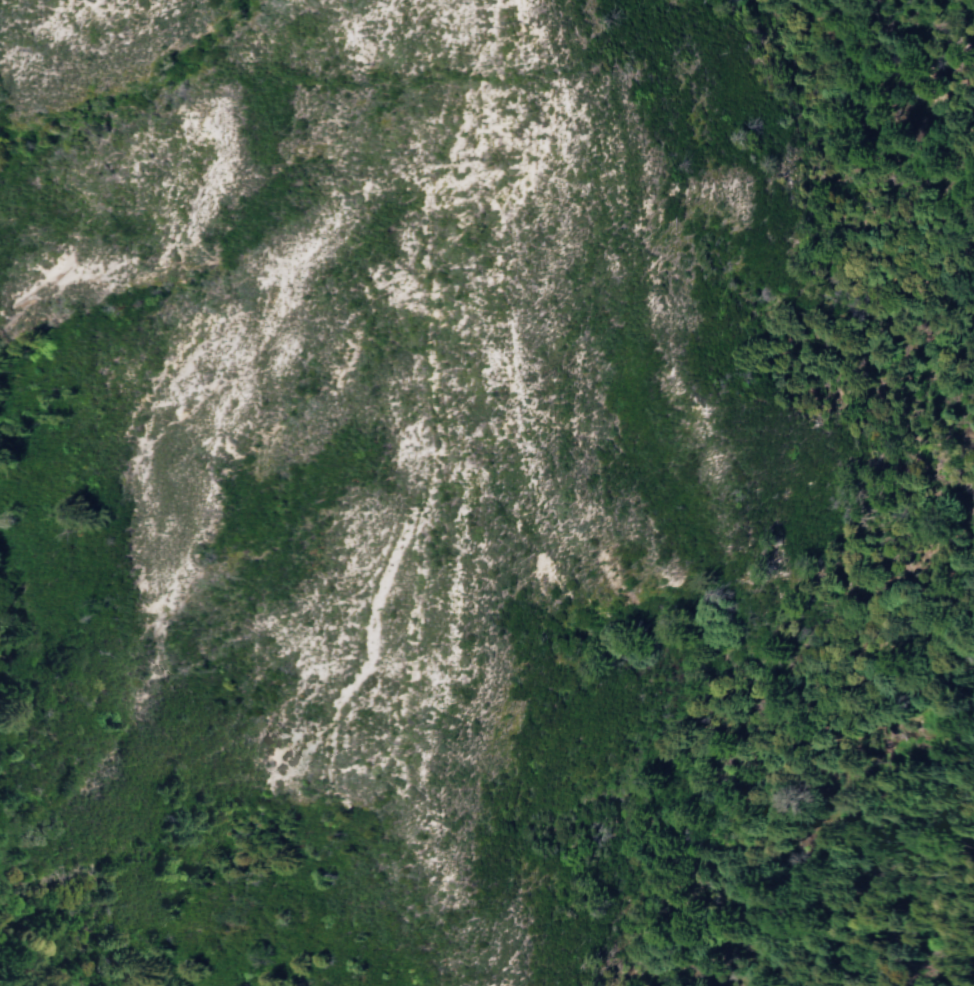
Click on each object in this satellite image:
road: (444, 417)

